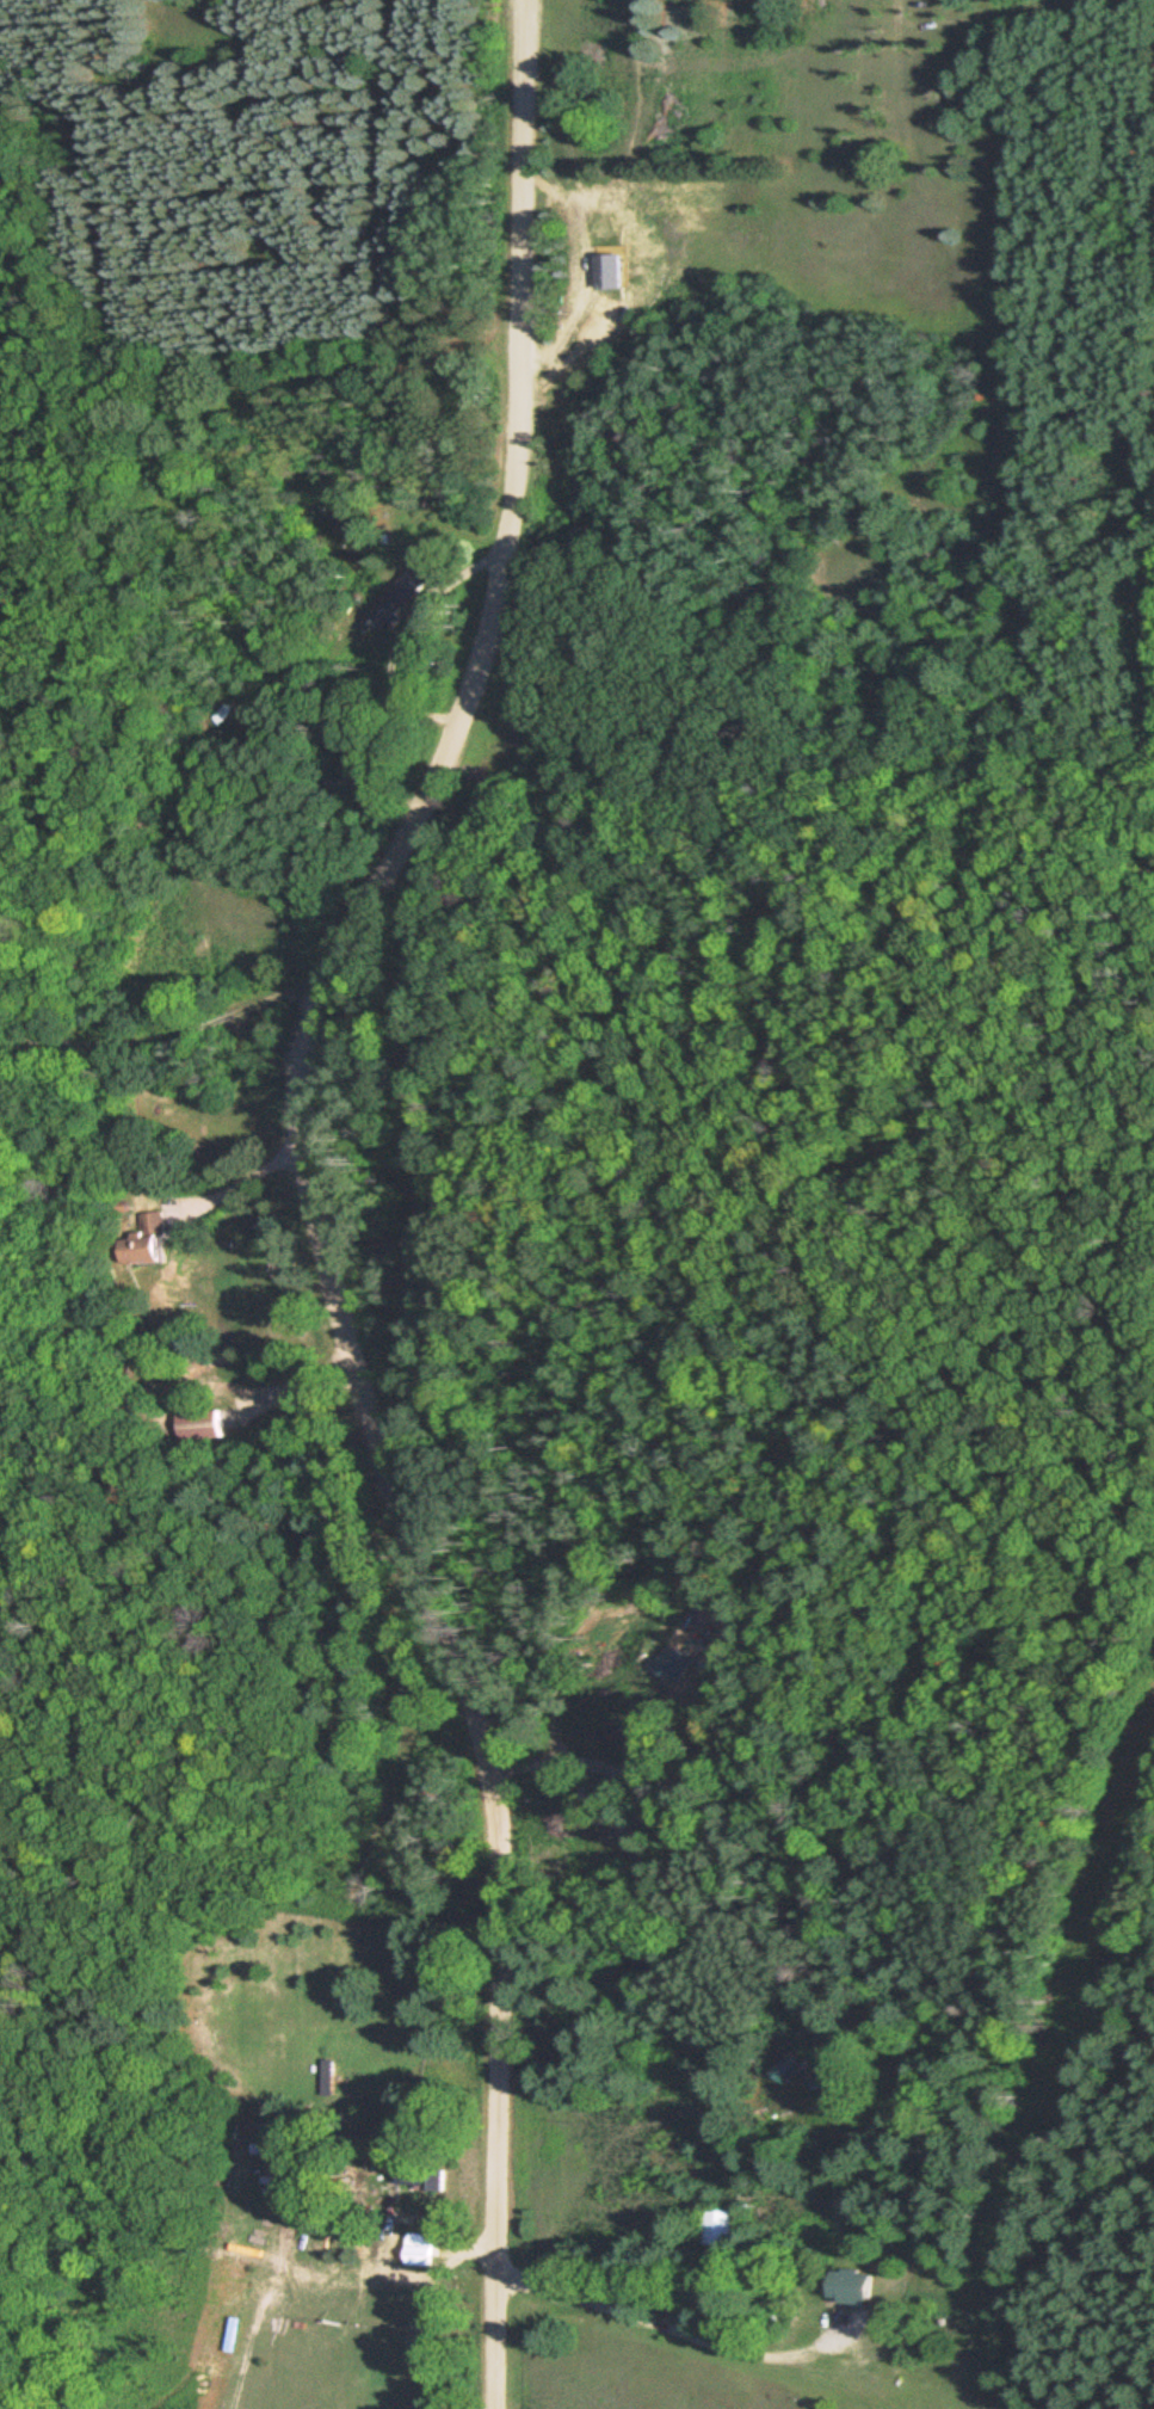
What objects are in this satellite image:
building: (621, 270)
building: (399, 598)
building: (220, 713)
road: (321, 1194)
building: (148, 1239)
building: (200, 1425)
building: (795, 2066)
building: (434, 2180)
building: (723, 2226)
building: (426, 2249)
building: (860, 2286)

